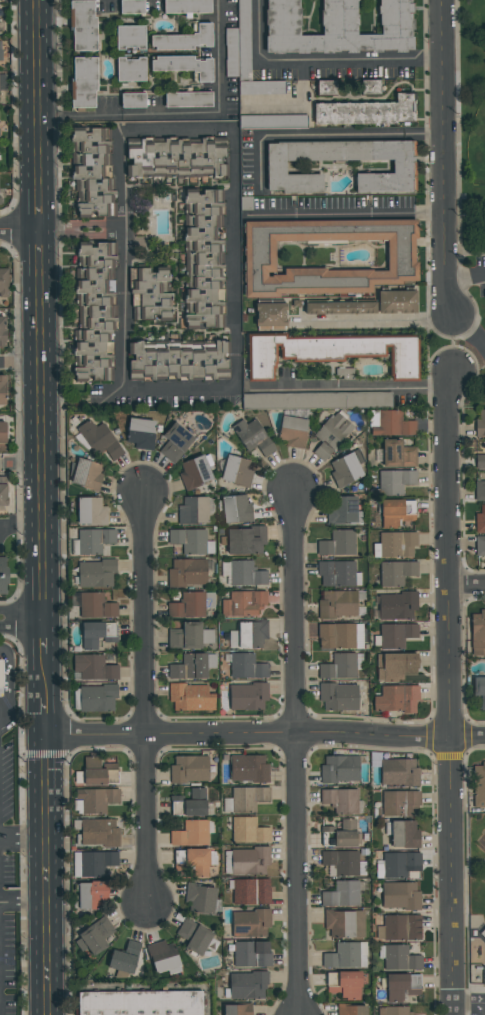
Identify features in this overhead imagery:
park: (484, 2)
building: (186, 6)
building: (131, 7)
building: (82, 25)
building: (338, 28)
road: (258, 30)
building: (130, 38)
building: (184, 39)
building: (238, 50)
road: (219, 55)
road: (351, 63)
building: (183, 65)
building: (130, 70)
building: (2, 81)
building: (83, 82)
road: (37, 86)
building: (261, 87)
building: (326, 87)
building: (369, 87)
building: (188, 99)
building: (132, 100)
building: (366, 111)
road: (128, 115)
building: (273, 121)
road: (324, 135)
park: (477, 146)
road: (443, 158)
building: (174, 159)
building: (403, 166)
building: (93, 173)
park: (471, 198)
road: (38, 202)
road: (345, 214)
road: (19, 230)
road: (81, 230)
road: (39, 253)
road: (474, 254)
building: (328, 255)
parking lot: (476, 275)
road: (464, 277)
building: (3, 283)
building: (150, 295)
building: (396, 302)
building: (340, 308)
building: (97, 309)
building: (270, 315)
road: (379, 322)
building: (2, 331)
road: (470, 331)
parking lot: (477, 340)
road: (455, 344)
building: (328, 354)
road: (475, 361)
road: (20, 363)
building: (178, 363)
road: (481, 369)
road: (351, 384)
road: (480, 387)
building: (2, 390)
road: (237, 390)
building: (316, 400)
building: (480, 424)
building: (392, 425)
building: (293, 431)
building: (140, 433)
building: (331, 435)
building: (2, 436)
building: (253, 437)
building: (98, 440)
building: (175, 443)
road: (42, 448)
building: (398, 454)
building: (480, 461)
road: (21, 467)
building: (345, 470)
building: (236, 471)
building: (194, 472)
building: (87, 474)
building: (395, 482)
building: (480, 490)
building: (3, 492)
building: (236, 509)
building: (342, 510)
building: (91, 511)
building: (193, 511)
building: (396, 512)
building: (480, 520)
road: (22, 527)
building: (94, 540)
building: (246, 540)
building: (191, 541)
building: (337, 544)
building: (395, 545)
building: (480, 546)
building: (95, 573)
building: (187, 573)
building: (396, 573)
building: (245, 574)
building: (338, 574)
building: (2, 575)
road: (467, 586)
building: (243, 604)
building: (338, 604)
building: (96, 606)
building: (188, 606)
building: (397, 606)
road: (10, 614)
road: (32, 621)
road: (9, 626)
building: (478, 633)
building: (97, 634)
building: (248, 635)
building: (396, 635)
building: (185, 636)
building: (340, 636)
road: (45, 639)
building: (341, 666)
building: (395, 666)
building: (189, 667)
building: (247, 667)
building: (94, 668)
building: (1, 673)
road: (7, 677)
road: (45, 678)
building: (479, 689)
road: (449, 693)
building: (247, 696)
building: (339, 697)
building: (97, 698)
building: (191, 698)
building: (396, 699)
road: (147, 702)
road: (46, 719)
road: (265, 739)
road: (297, 755)
building: (248, 768)
building: (189, 769)
building: (339, 769)
building: (399, 772)
building: (98, 773)
building: (478, 785)
building: (245, 799)
building: (96, 800)
building: (342, 800)
building: (189, 804)
building: (400, 804)
building: (248, 831)
building: (99, 833)
building: (343, 833)
building: (191, 834)
building: (402, 834)
road: (23, 842)
building: (250, 861)
building: (96, 862)
building: (227, 862)
building: (194, 863)
building: (344, 863)
building: (397, 865)
road: (47, 876)
building: (484, 879)
building: (251, 892)
building: (91, 895)
building: (341, 895)
building: (400, 896)
building: (201, 898)
road: (24, 902)
building: (250, 923)
building: (344, 924)
building: (400, 928)
building: (194, 936)
building: (94, 937)
building: (251, 954)
building: (163, 956)
building: (346, 956)
building: (124, 958)
building: (399, 958)
building: (345, 984)
building: (247, 985)
building: (402, 987)
building: (139, 1003)
road: (469, 1003)
building: (237, 1009)
building: (351, 1010)
building: (397, 1011)

